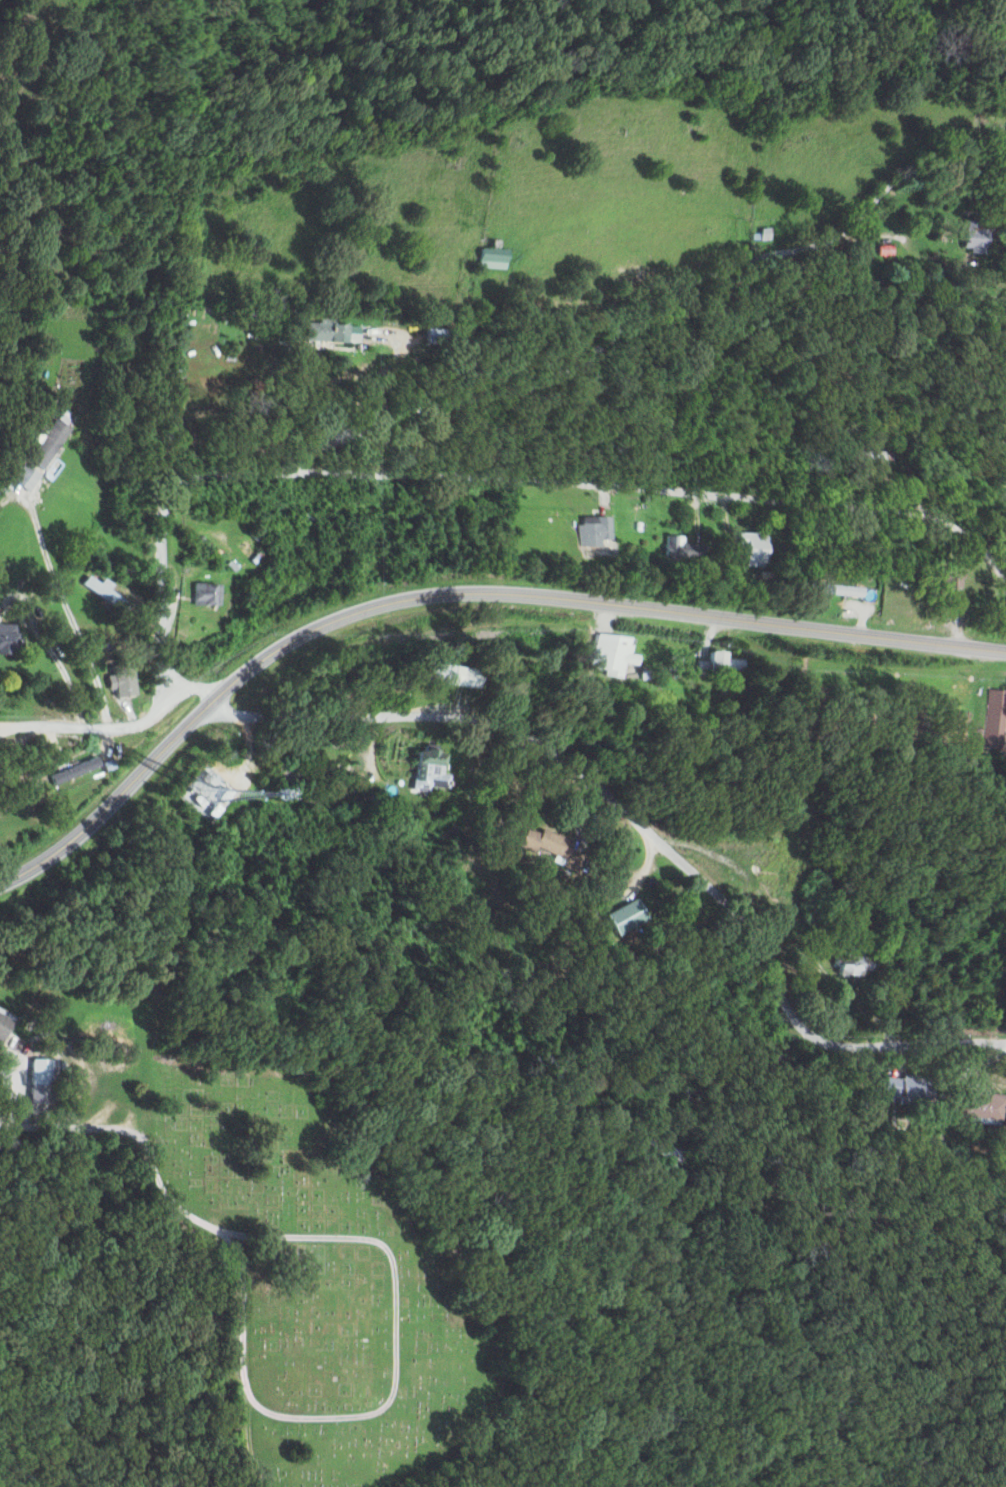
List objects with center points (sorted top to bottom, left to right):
road: (517, 156)
road: (502, 250)
building: (484, 257)
road: (643, 295)
building: (323, 331)
building: (351, 333)
building: (438, 336)
building: (45, 441)
road: (500, 473)
building: (19, 477)
road: (724, 527)
building: (592, 530)
building: (680, 548)
building: (747, 548)
road: (1002, 571)
building: (946, 578)
building: (103, 593)
building: (201, 593)
road: (61, 600)
road: (598, 601)
building: (4, 636)
building: (609, 653)
building: (719, 662)
building: (117, 680)
road: (187, 683)
road: (90, 720)
building: (993, 720)
road: (367, 742)
building: (70, 770)
building: (422, 770)
road: (113, 793)
road: (645, 829)
building: (538, 842)
building: (620, 917)
building: (843, 969)
building: (2, 1023)
building: (38, 1071)
building: (901, 1087)
building: (977, 1104)
road: (135, 1135)
road: (382, 1393)

